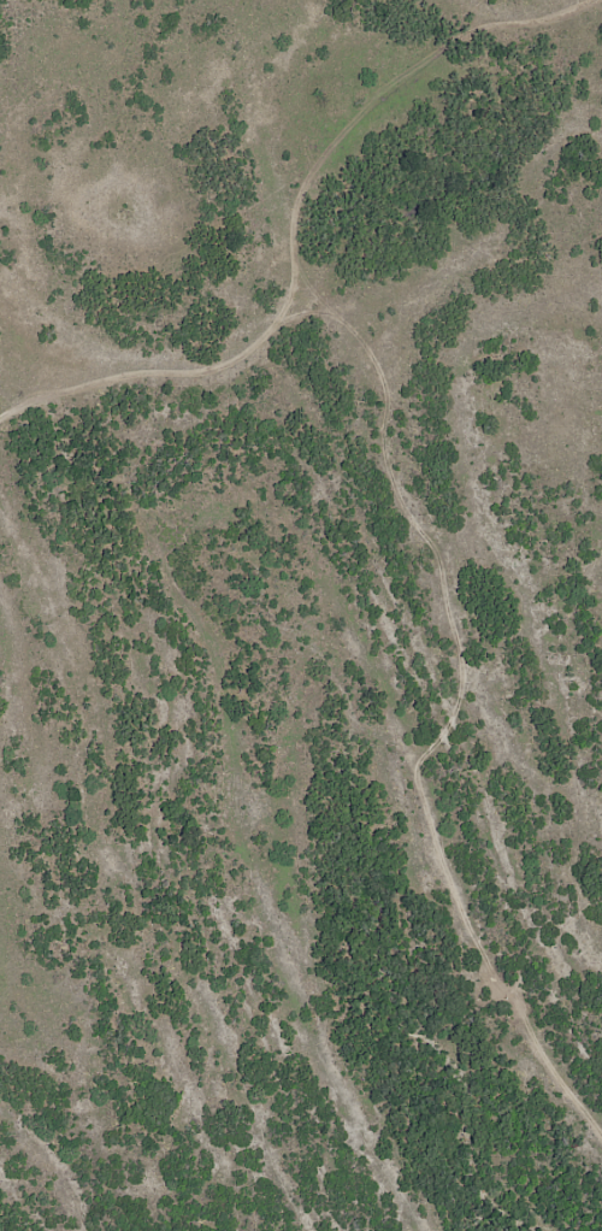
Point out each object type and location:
road: (301, 249)

